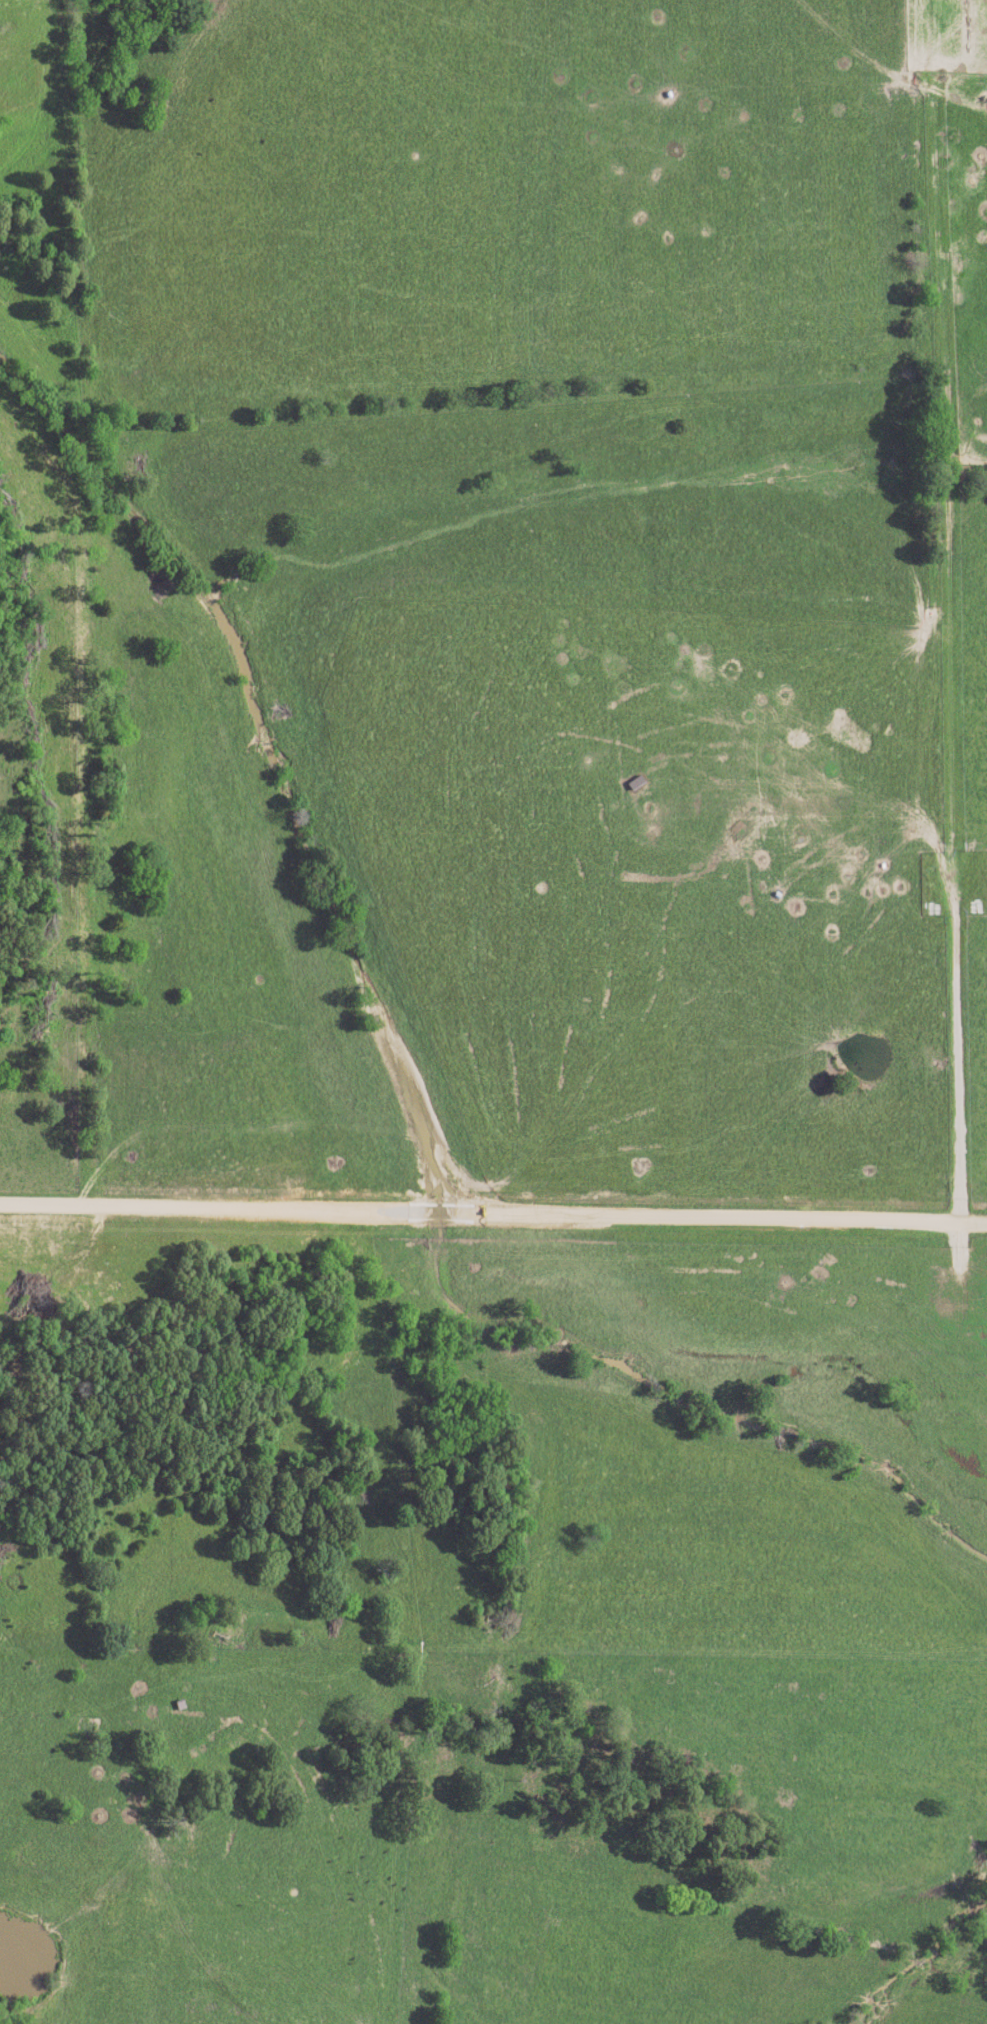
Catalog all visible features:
road: (335, 911)
road: (493, 1215)
crop: (344, 1960)

